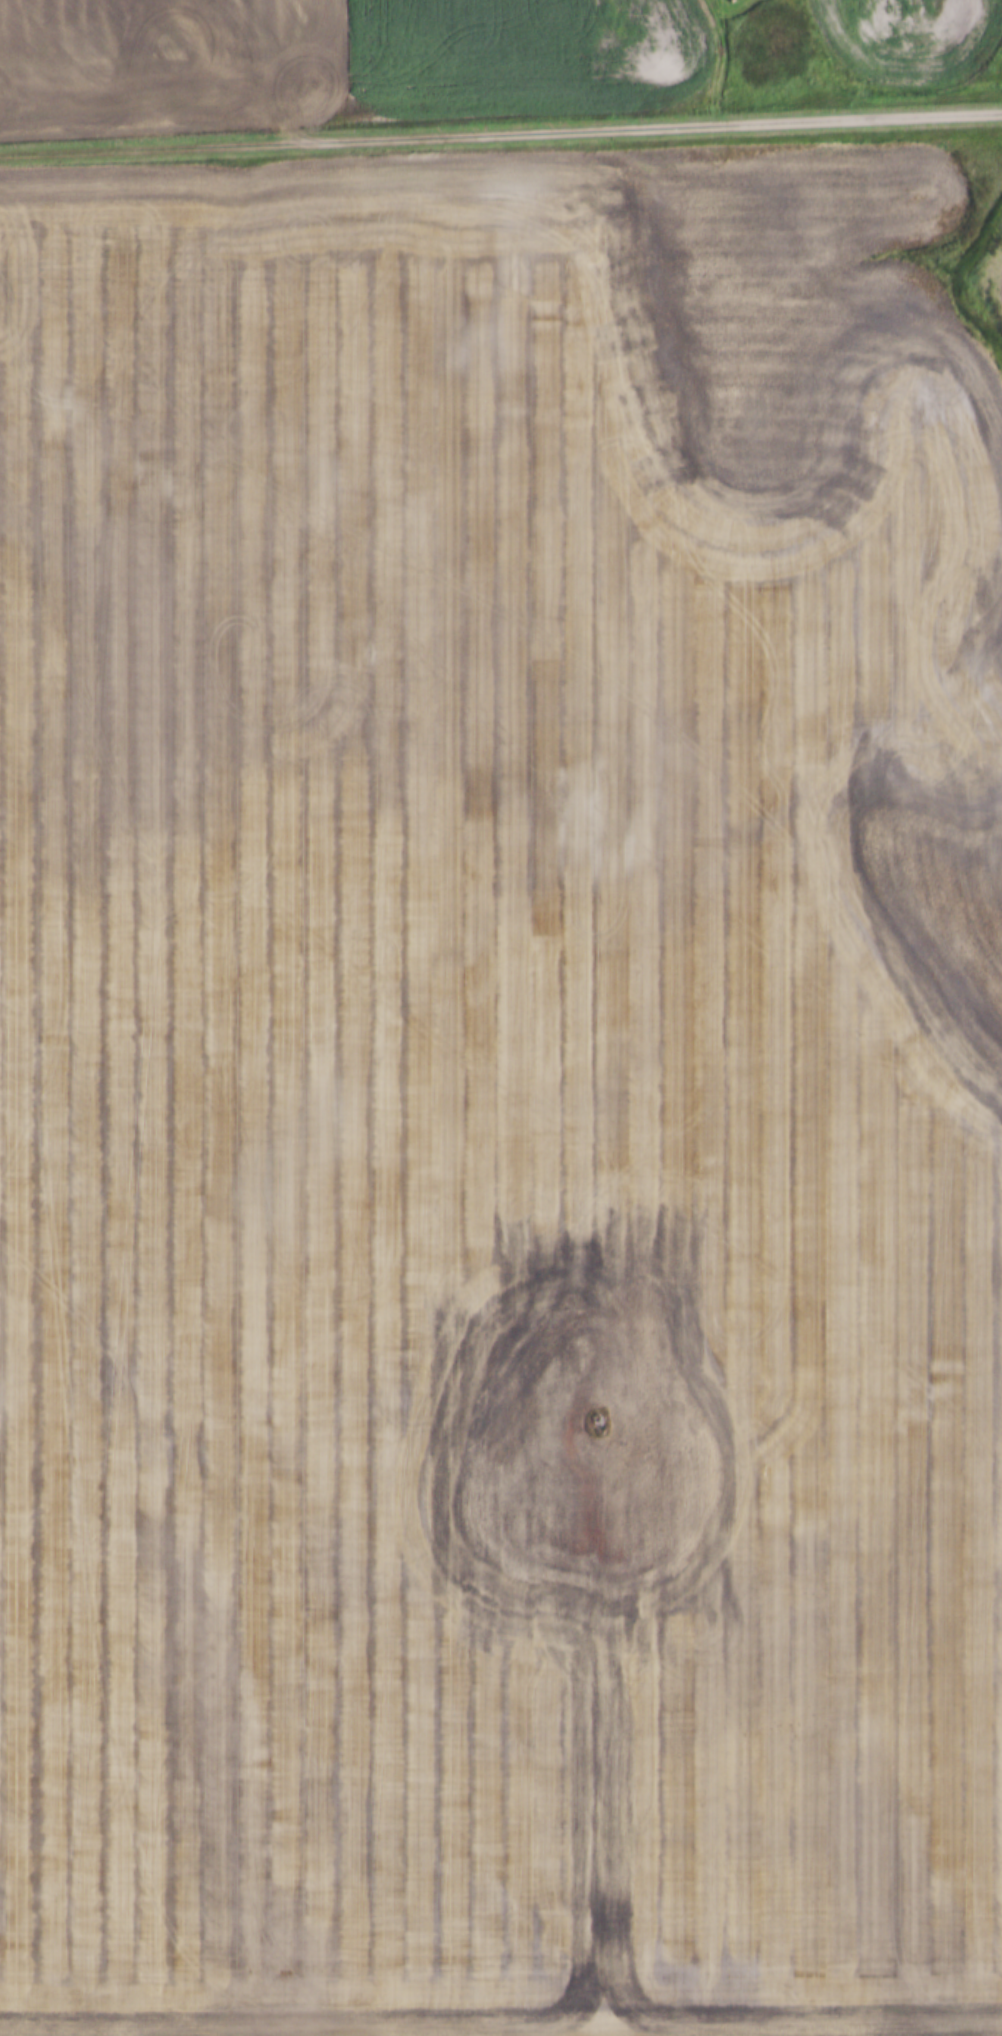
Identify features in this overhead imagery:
road: (500, 130)

